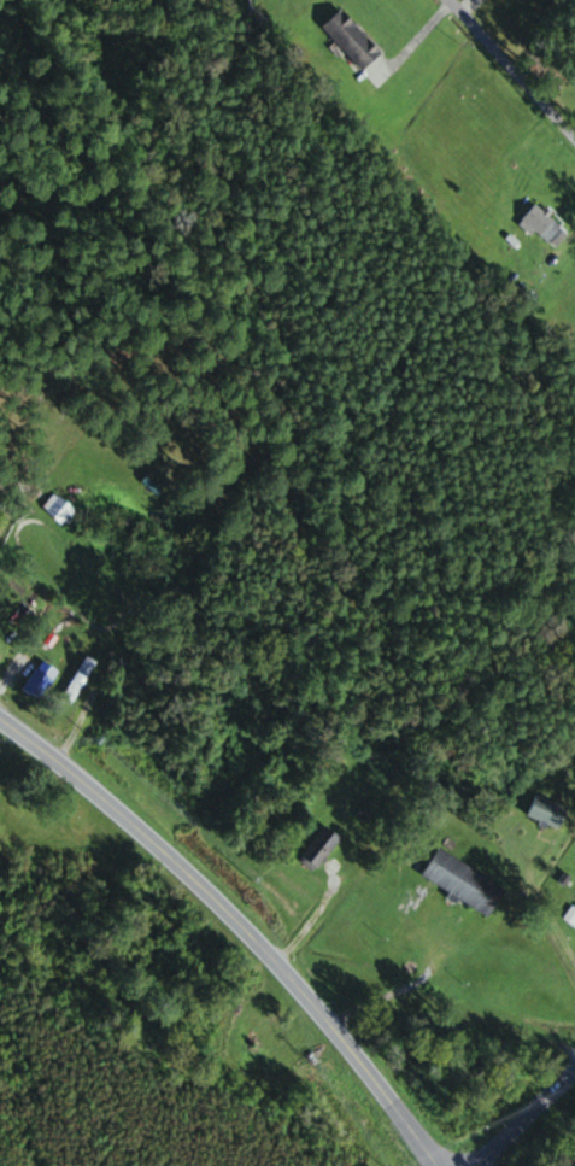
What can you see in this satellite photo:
building: (544, 0)
road: (468, 5)
road: (416, 39)
building: (353, 40)
road: (515, 65)
building: (545, 225)
building: (60, 509)
building: (80, 679)
building: (41, 680)
building: (385, 762)
building: (548, 811)
building: (321, 849)
building: (464, 883)
road: (239, 927)
road: (534, 1124)

